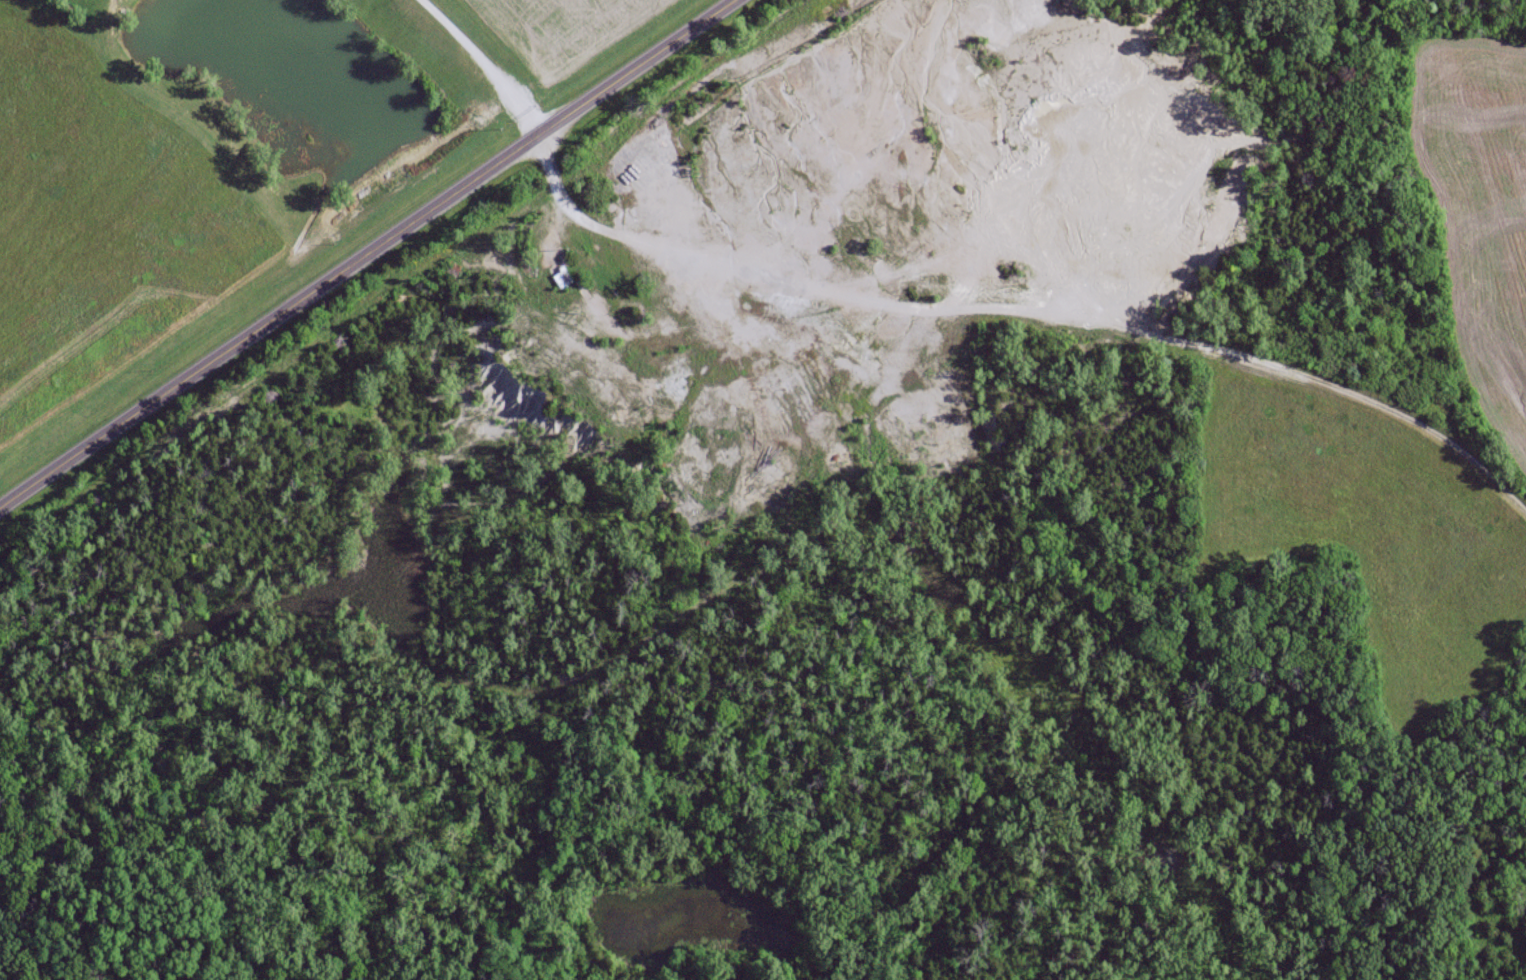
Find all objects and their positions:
road: (478, 63)
road: (363, 249)
road: (734, 267)
road: (1052, 312)

